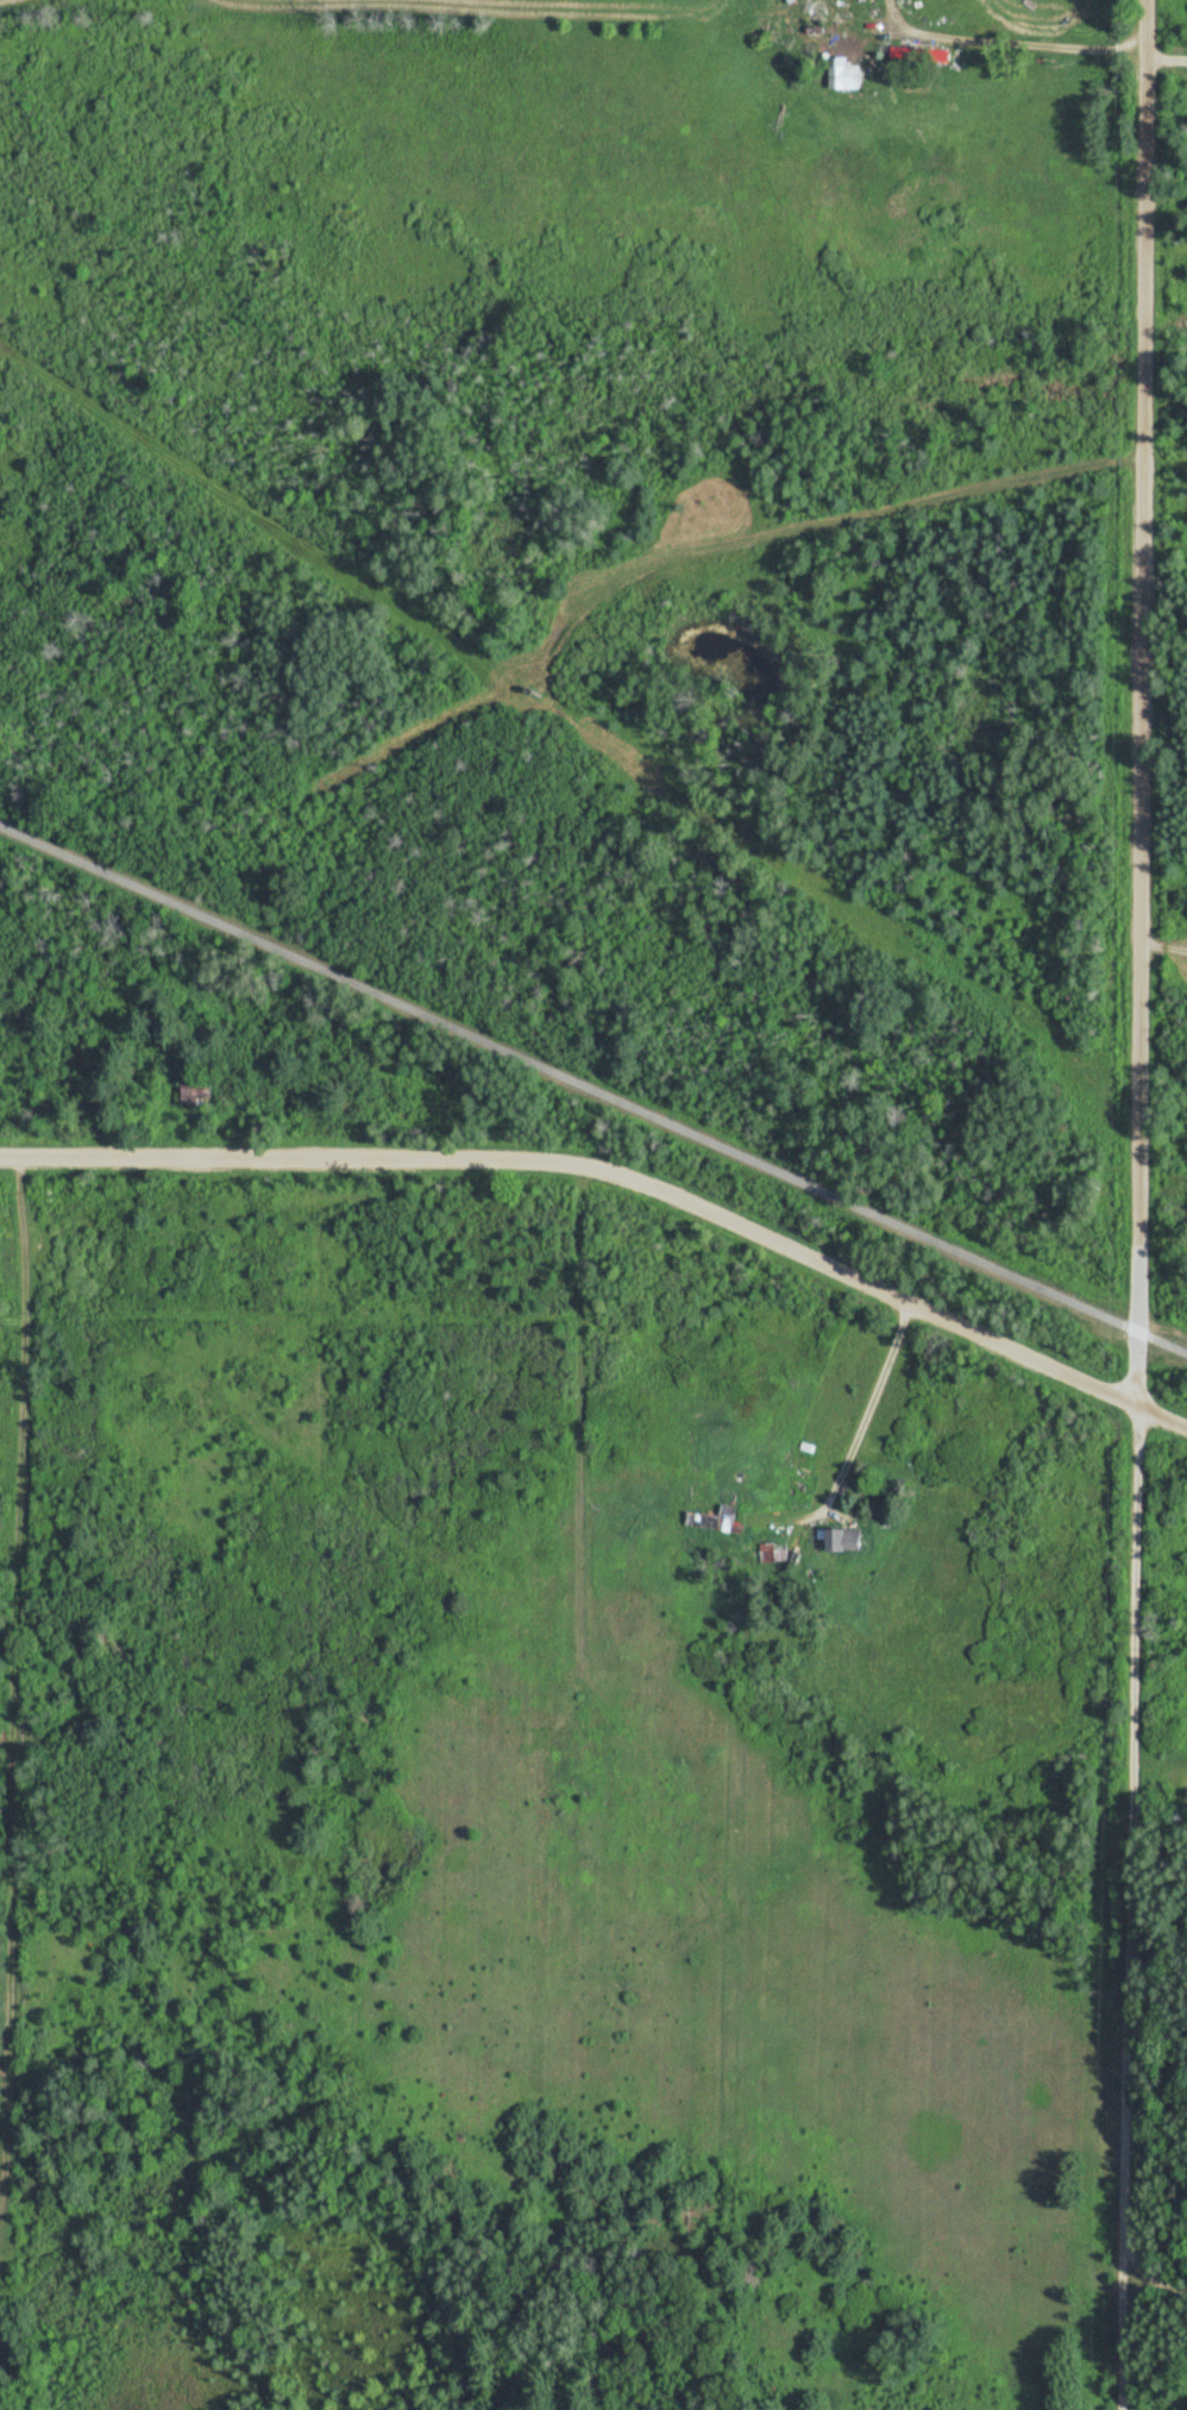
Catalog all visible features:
building: (837, 75)
road: (986, 89)
road: (887, 542)
road: (1163, 947)
road: (593, 1083)
building: (200, 1090)
road: (618, 1176)
road: (1138, 1204)
building: (904, 1396)
building: (715, 1520)
building: (836, 1539)
building: (764, 1552)
road: (11, 1697)
road: (1154, 2315)

